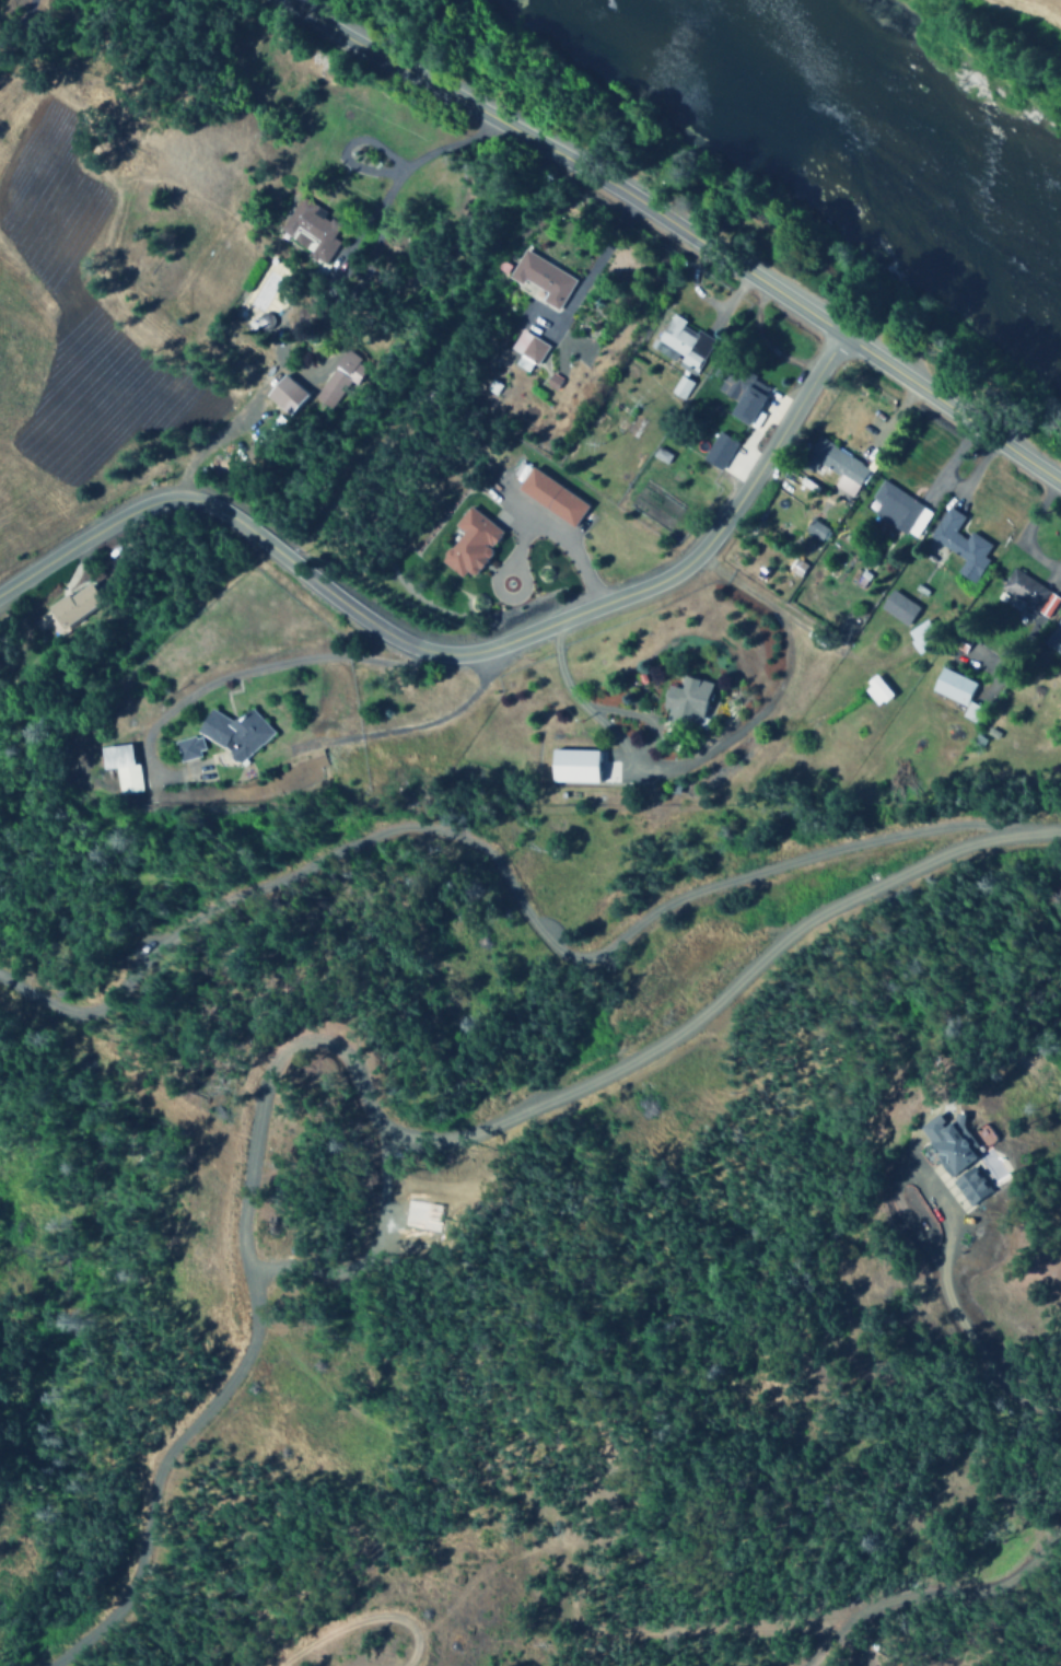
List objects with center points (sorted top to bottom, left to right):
river: (853, 128)
road: (573, 159)
building: (311, 226)
building: (540, 277)
building: (684, 342)
building: (526, 349)
building: (338, 378)
building: (741, 393)
building: (283, 394)
road: (951, 406)
building: (716, 450)
building: (832, 461)
building: (843, 486)
building: (549, 496)
building: (897, 509)
building: (815, 529)
building: (468, 543)
building: (960, 544)
building: (1027, 593)
building: (71, 604)
building: (896, 607)
building: (919, 634)
building: (1053, 637)
road: (454, 646)
building: (874, 690)
building: (955, 691)
building: (685, 699)
building: (234, 733)
building: (187, 747)
building: (571, 765)
building: (120, 767)
road: (503, 876)
road: (355, 1099)
building: (967, 1162)
road: (905, 1169)
road: (984, 1364)
road: (841, 1619)
road: (360, 1622)

